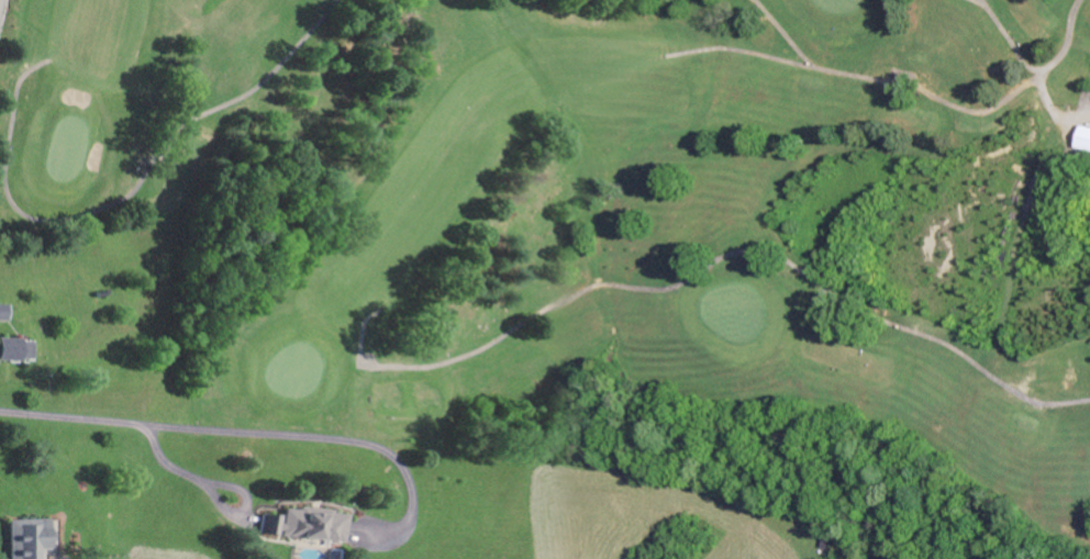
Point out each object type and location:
road: (1, 4)
building: (1083, 136)
building: (3, 311)
building: (16, 348)
road: (232, 431)
building: (305, 524)
building: (32, 537)

